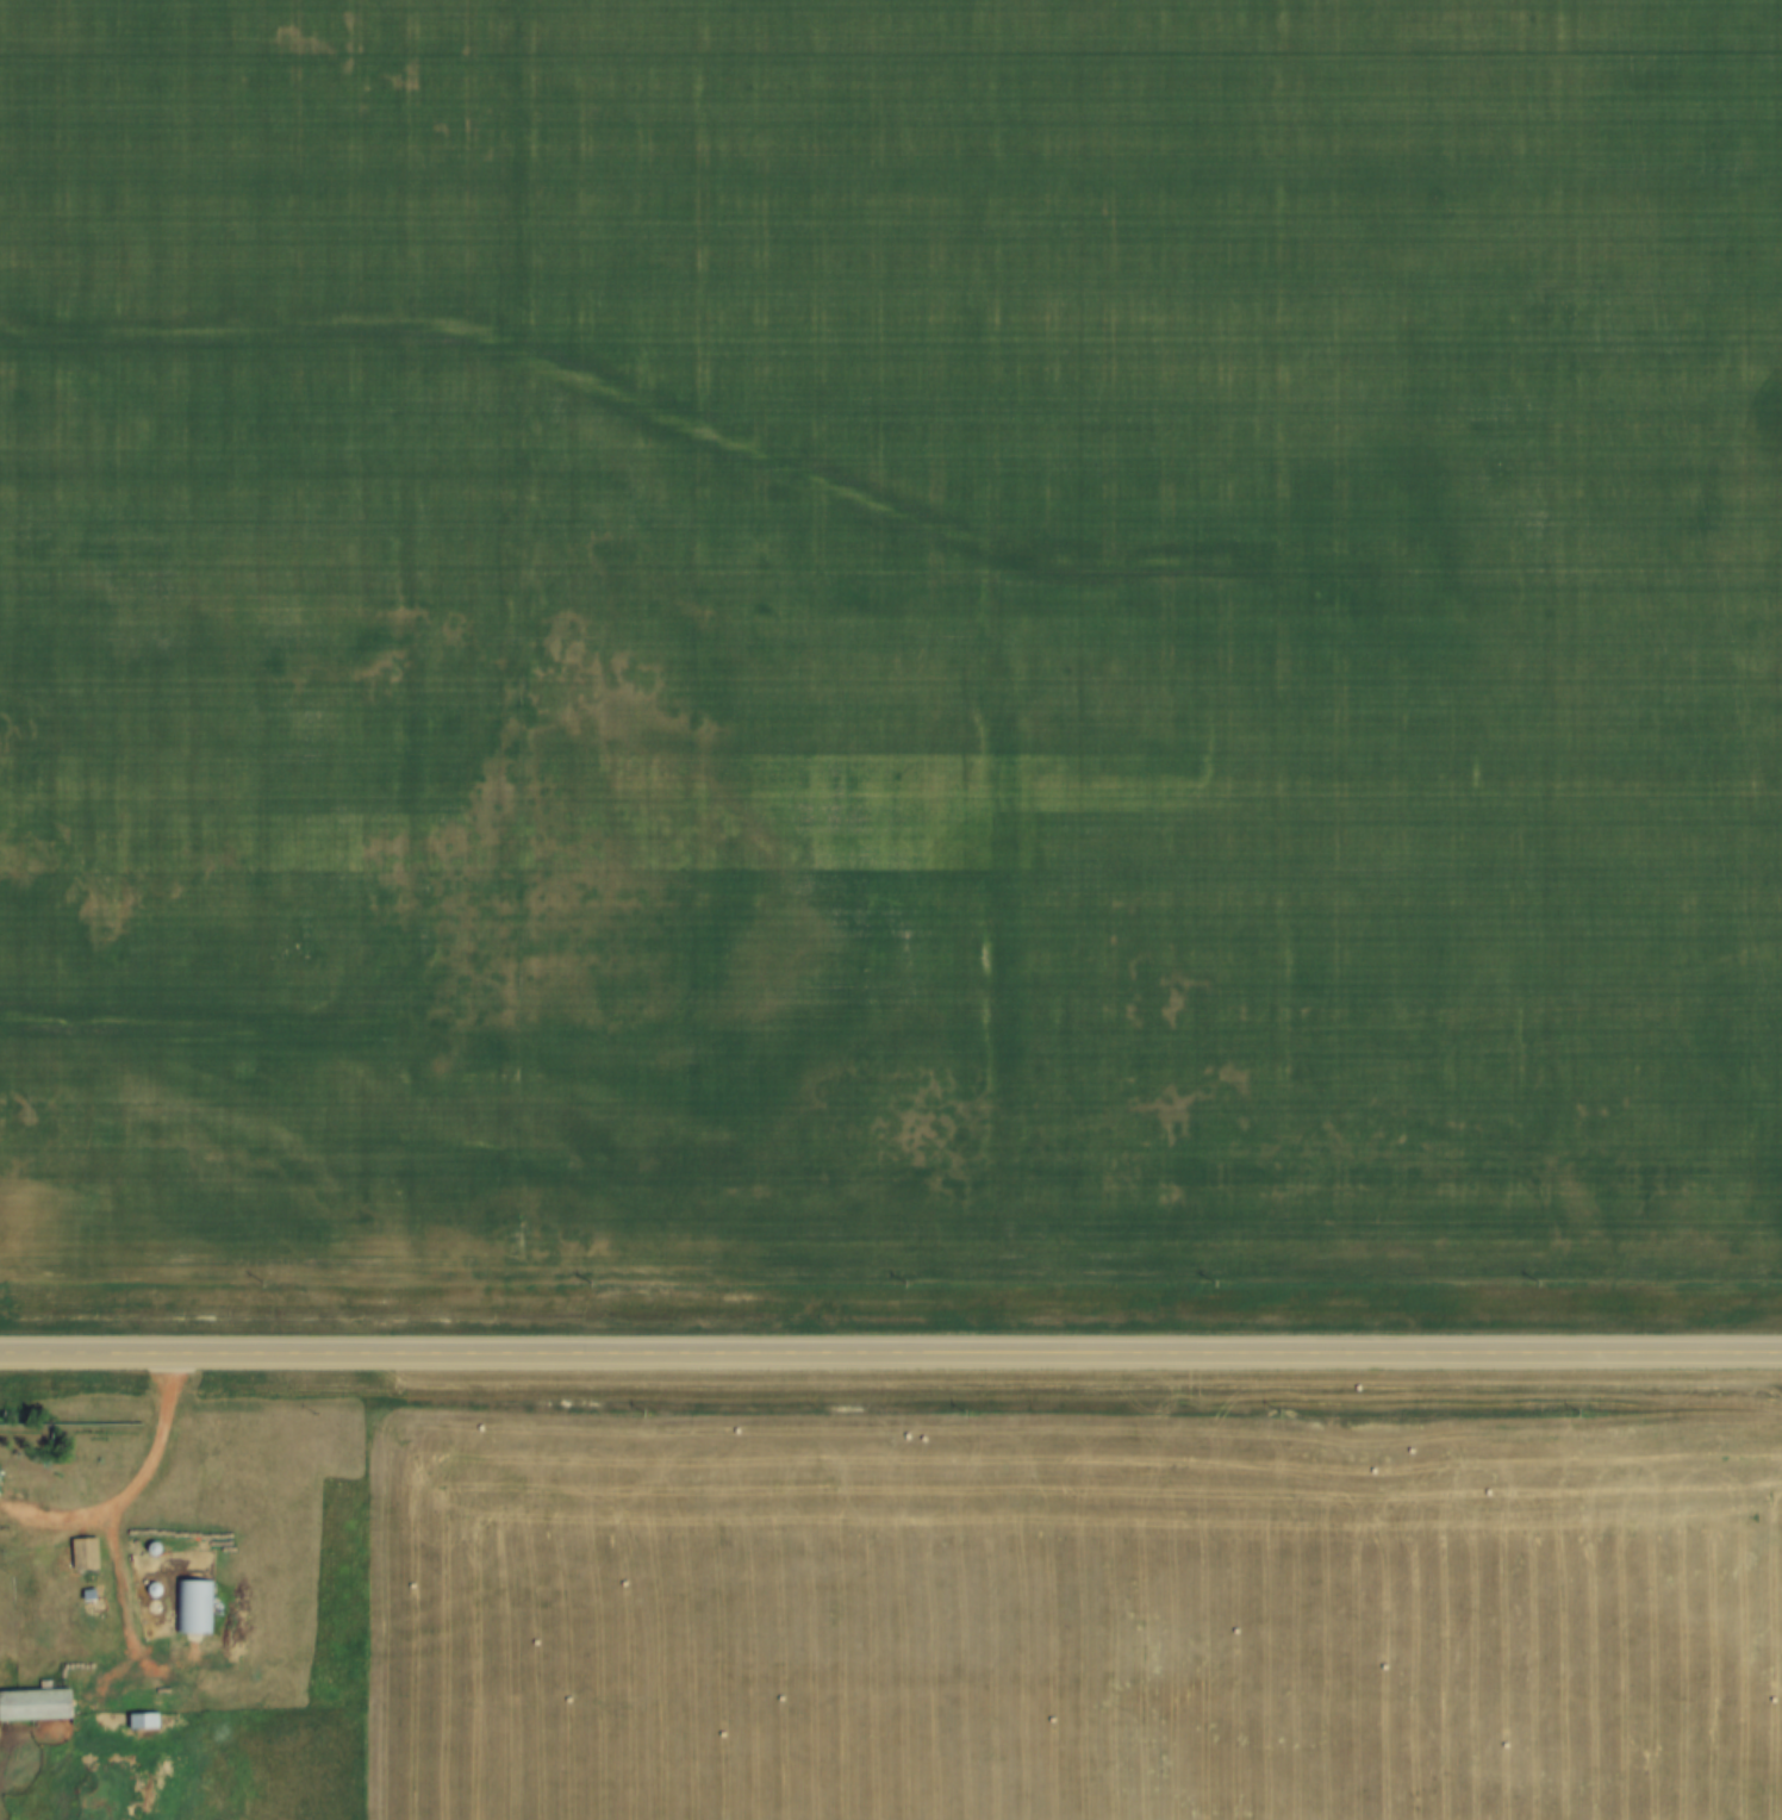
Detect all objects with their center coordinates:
road: (890, 1350)
road: (145, 1469)
building: (82, 1553)
building: (193, 1606)
building: (35, 1704)
building: (142, 1721)

